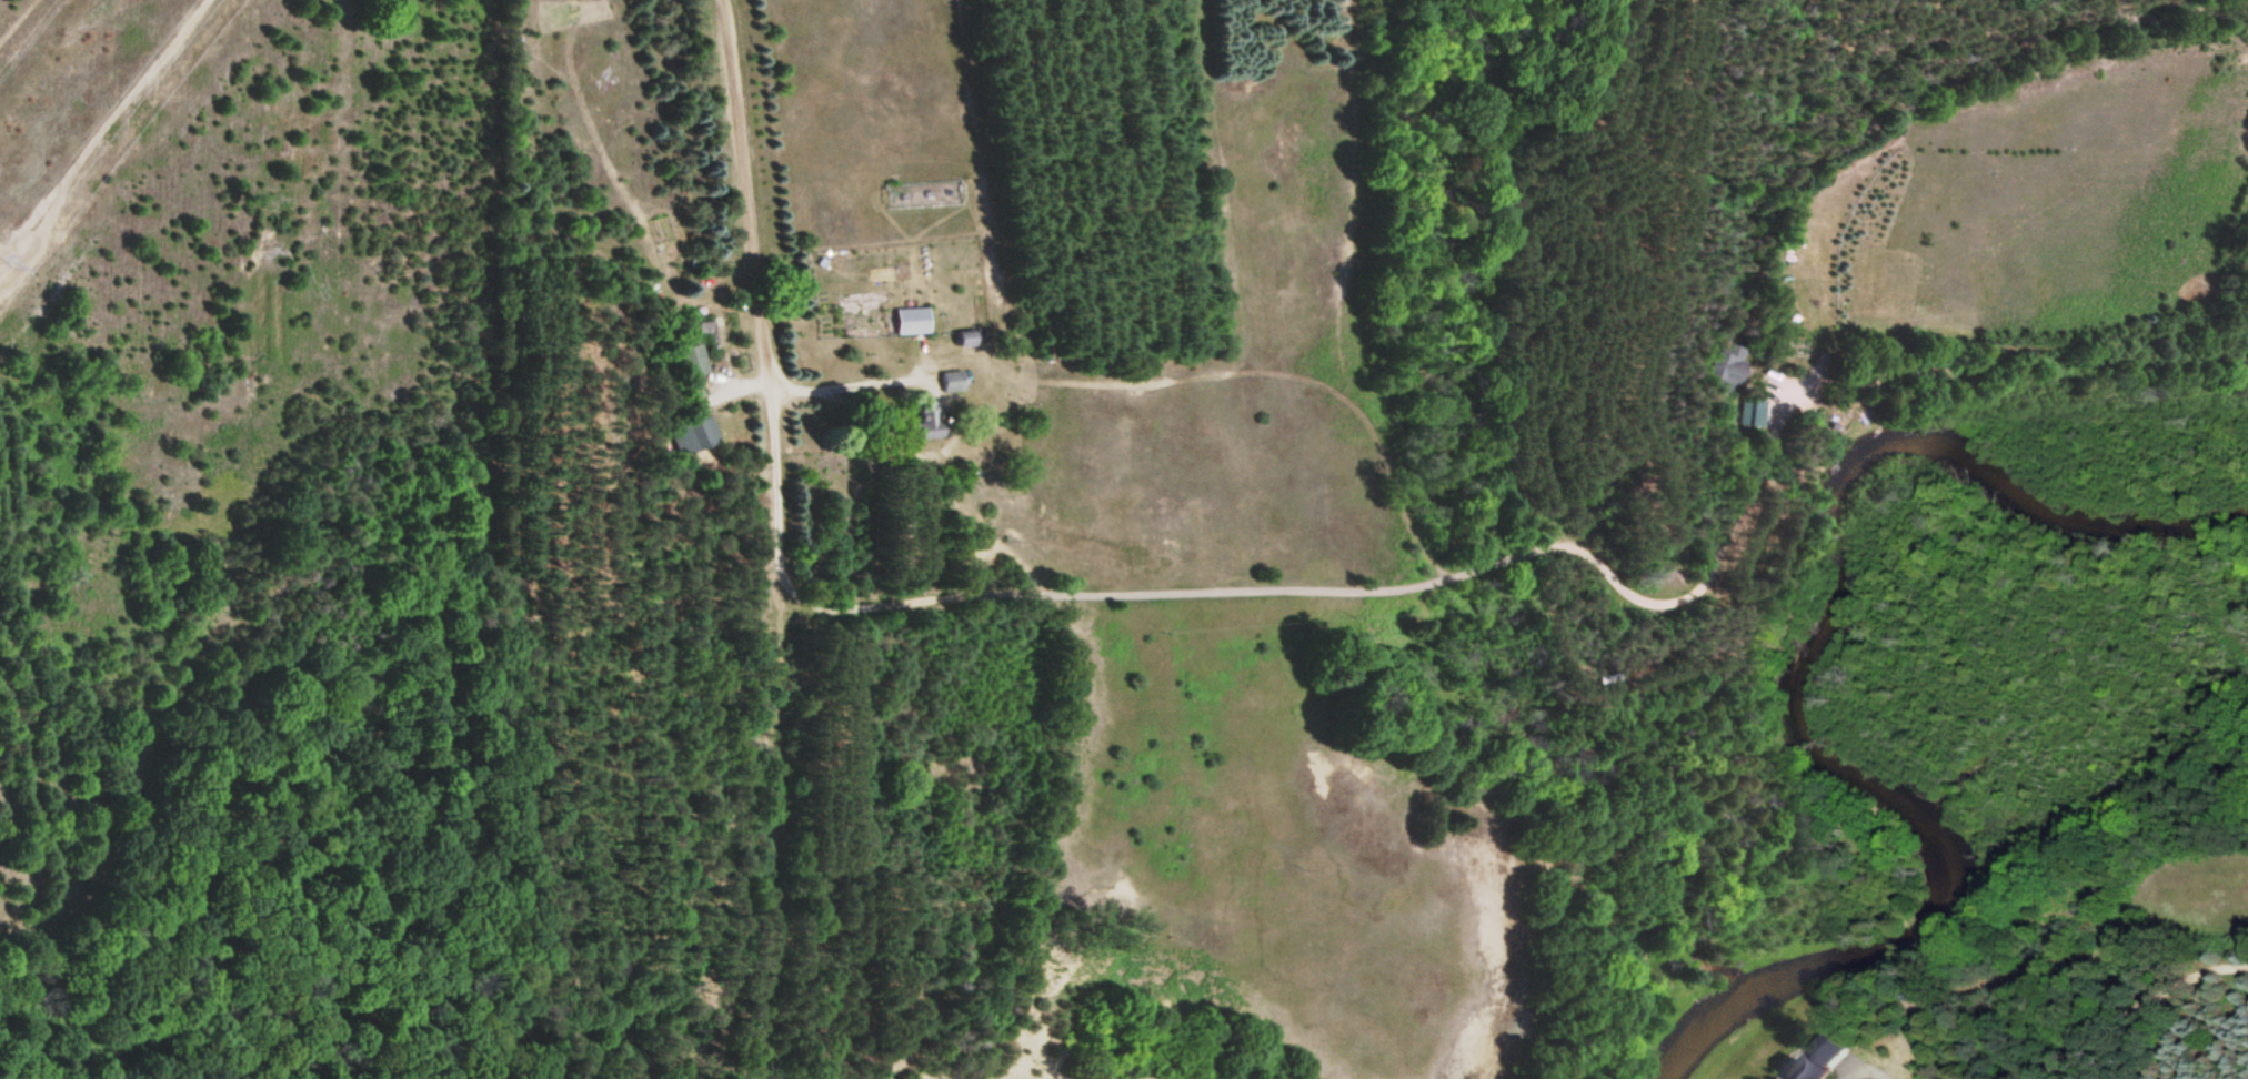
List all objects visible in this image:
road: (756, 288)
building: (905, 322)
building: (955, 341)
building: (688, 362)
building: (1718, 365)
road: (844, 386)
building: (916, 420)
building: (691, 435)
road: (1347, 587)
river: (1796, 677)

